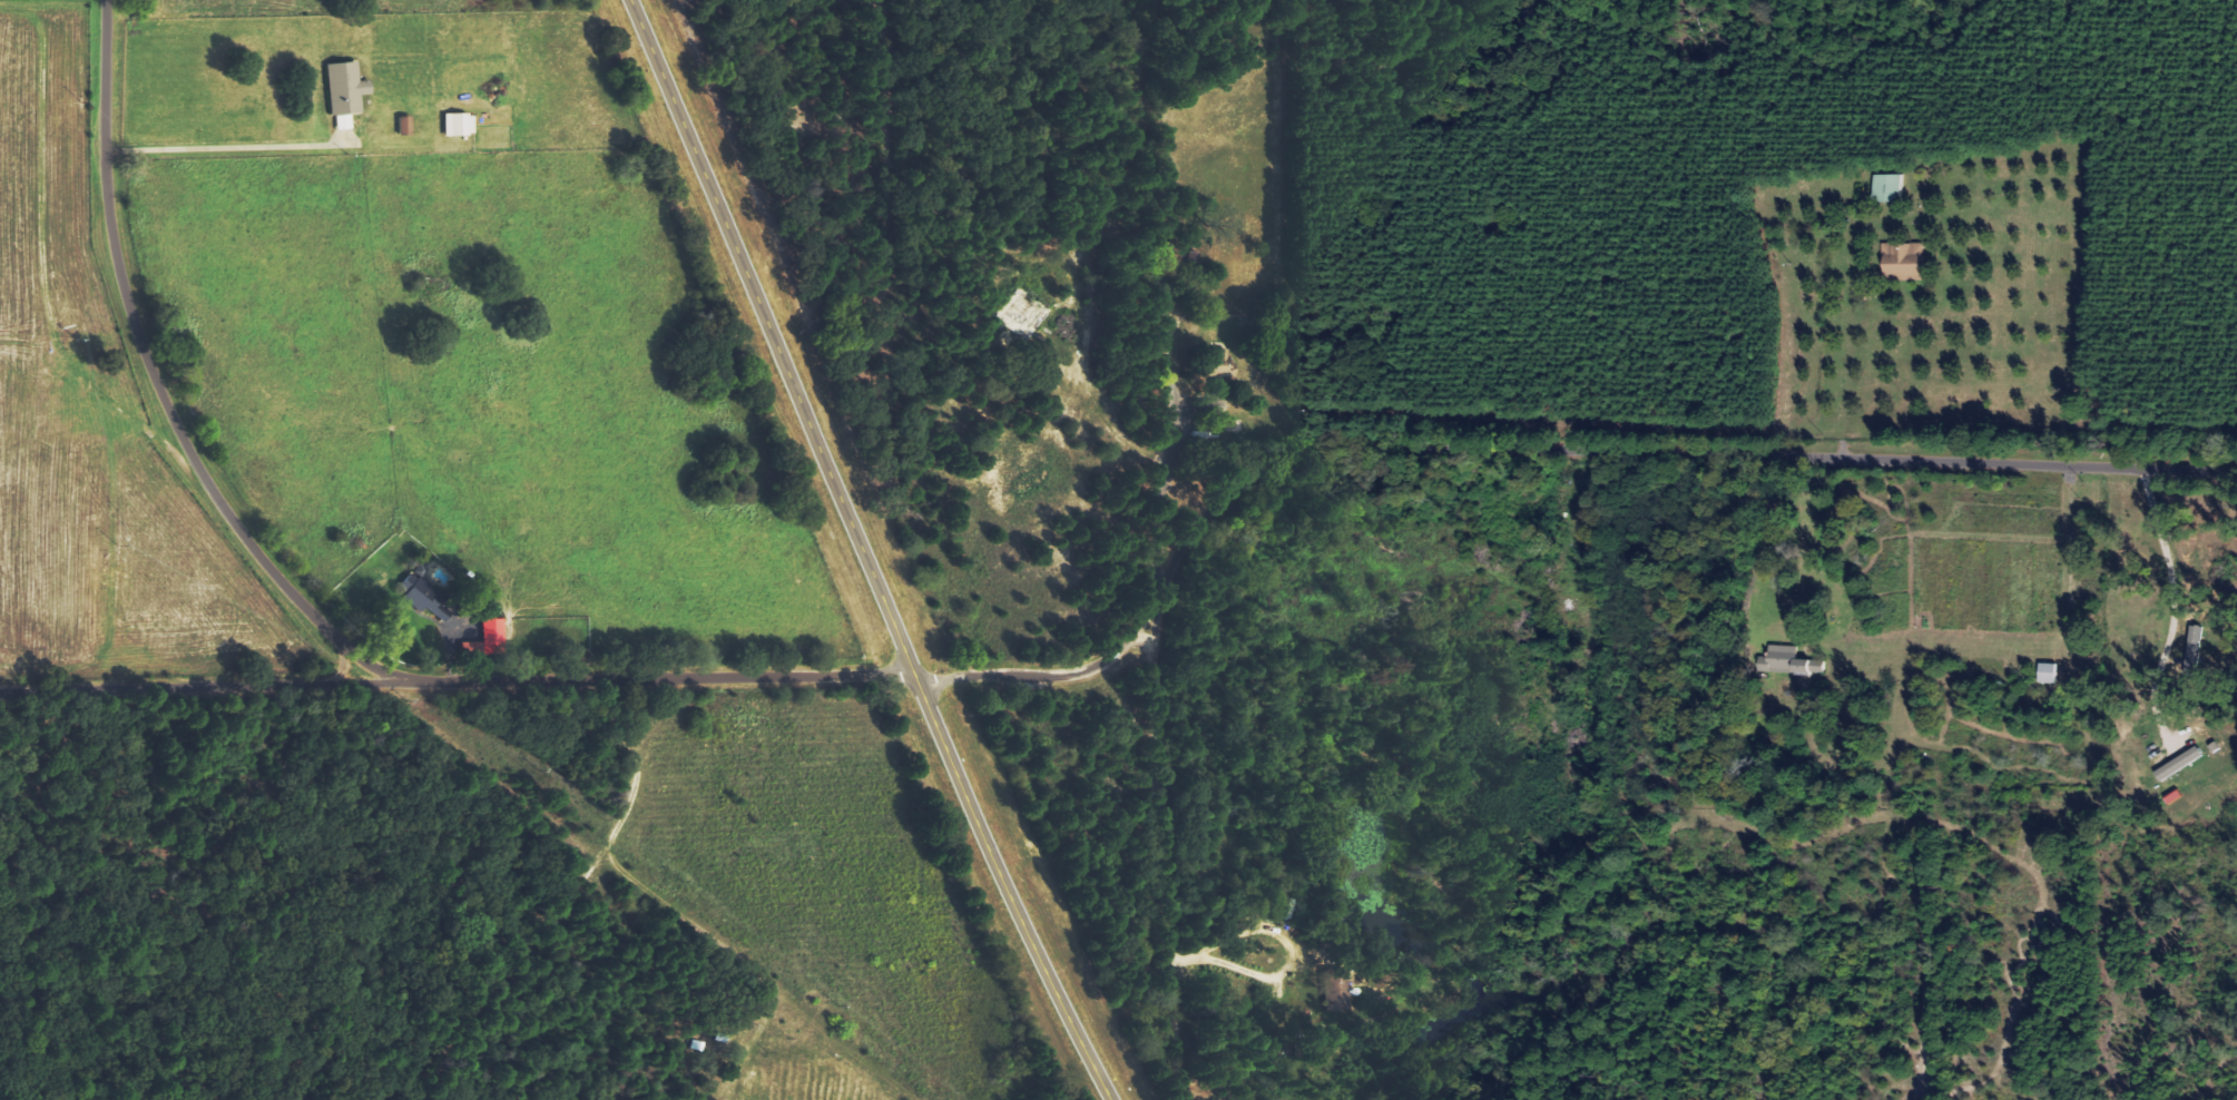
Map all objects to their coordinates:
building: (346, 92)
building: (459, 125)
building: (405, 126)
building: (1886, 187)
building: (1905, 262)
road: (145, 357)
building: (1217, 363)
road: (1843, 430)
road: (1633, 455)
road: (864, 553)
building: (421, 593)
building: (497, 631)
building: (472, 650)
building: (1792, 661)
road: (350, 668)
building: (2050, 674)
road: (1020, 676)
road: (629, 678)
road: (204, 686)
building: (2181, 764)
road: (511, 773)
road: (526, 982)
building: (1337, 994)

